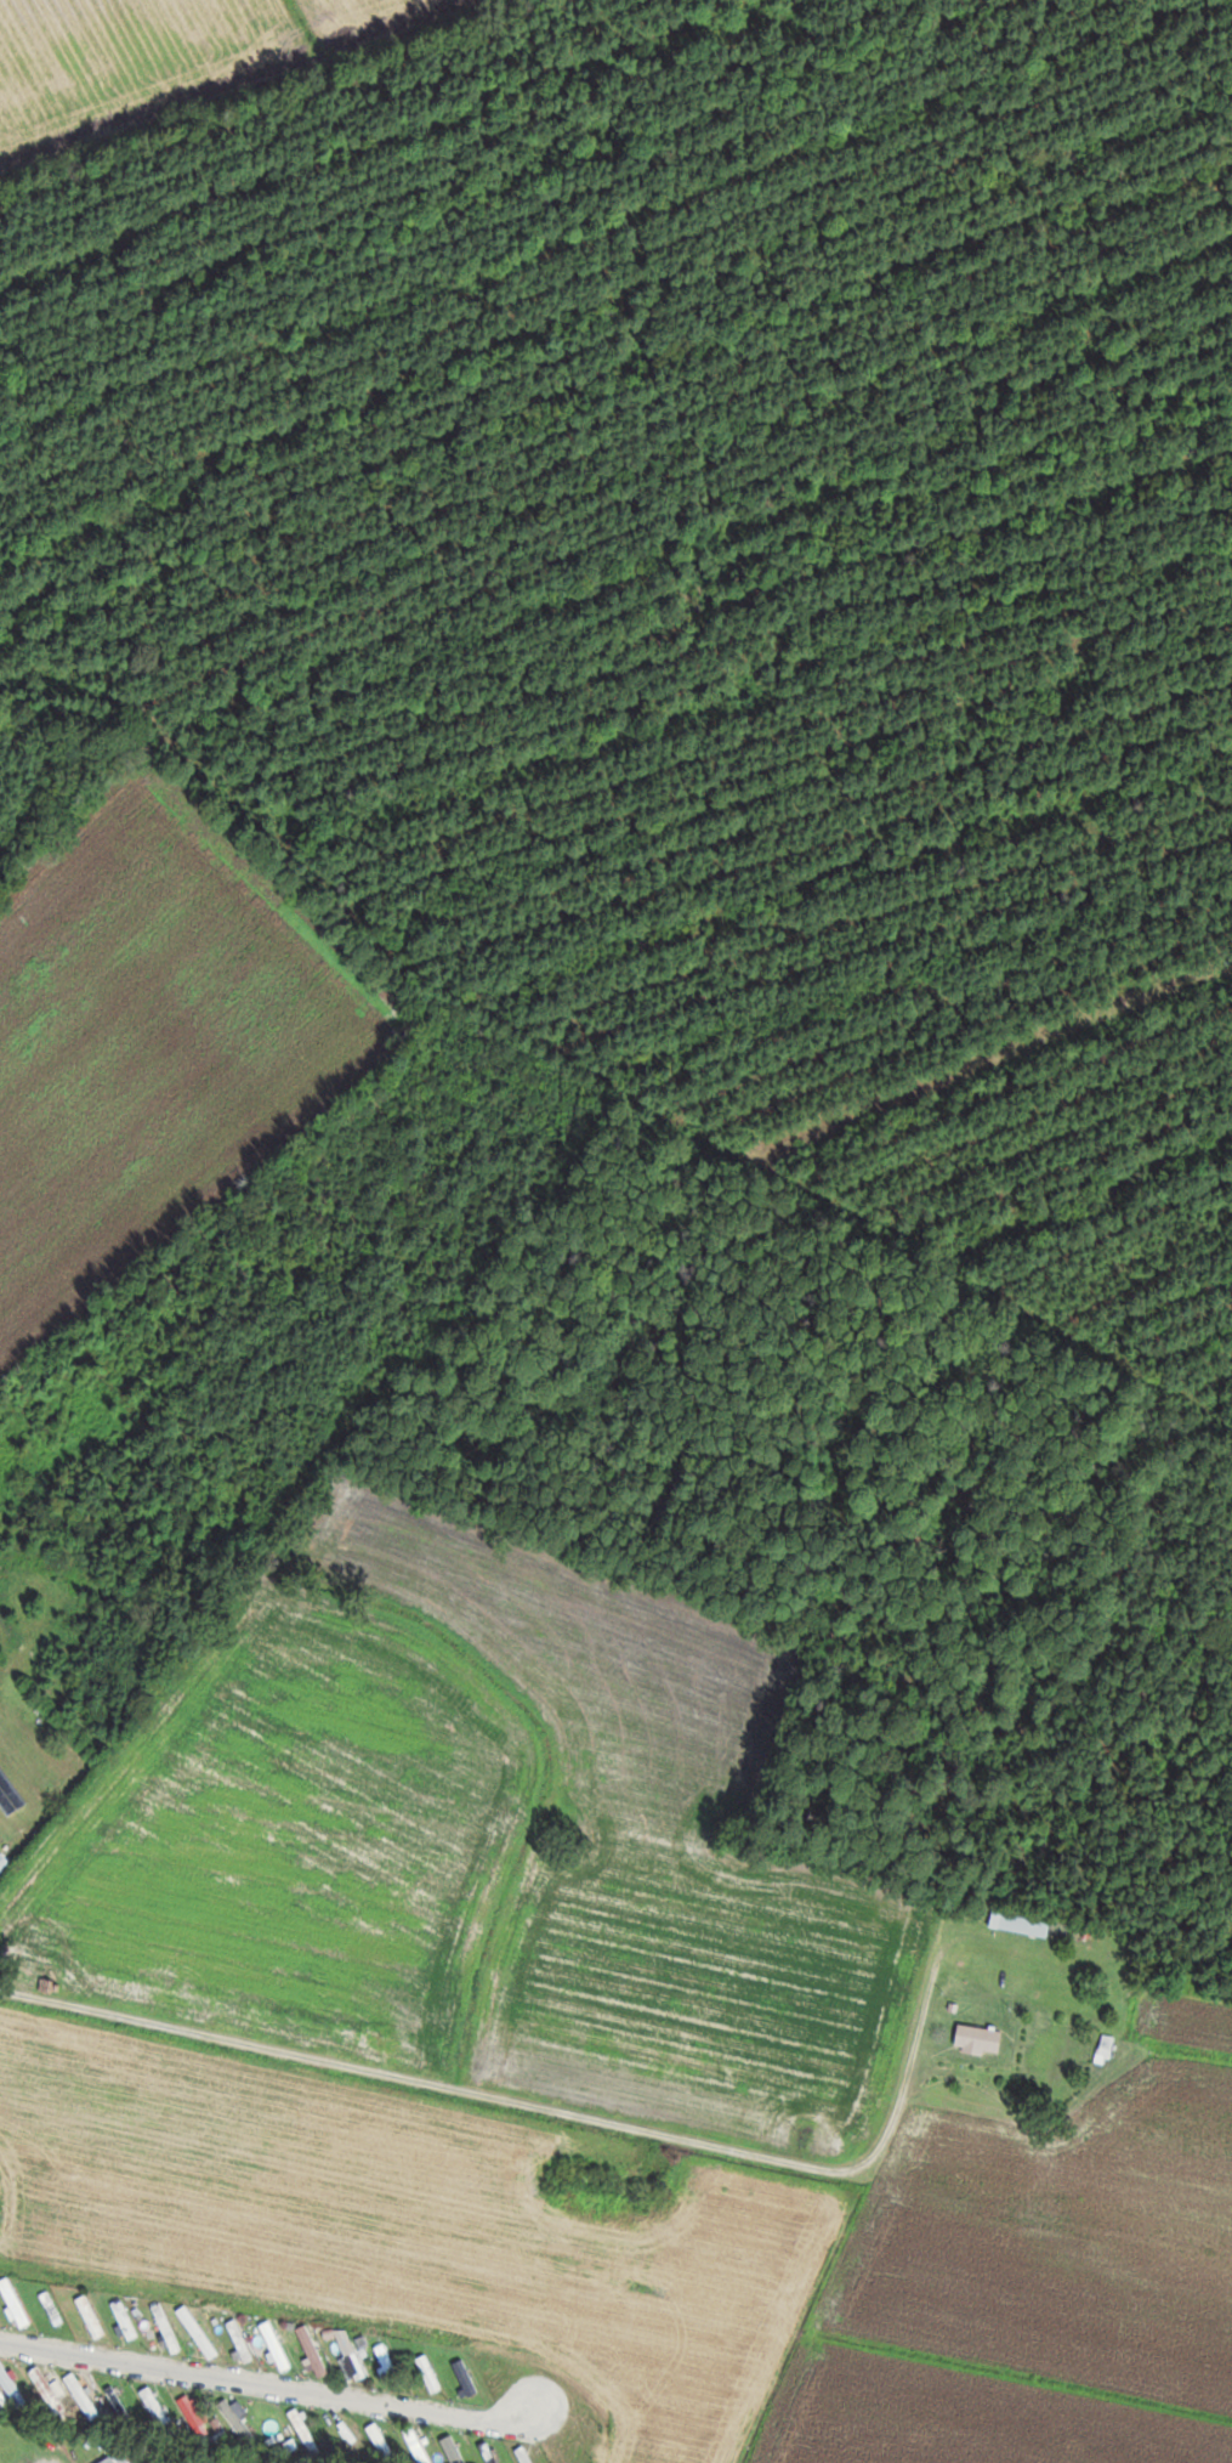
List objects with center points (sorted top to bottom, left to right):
building: (1027, 1925)
building: (982, 2039)
road: (553, 2110)
building: (17, 2301)
building: (56, 2308)
building: (93, 2316)
building: (127, 2318)
building: (169, 2328)
building: (201, 2332)
building: (243, 2340)
building: (279, 2345)
building: (356, 2357)
building: (432, 2372)
building: (469, 2377)
road: (269, 2383)
building: (13, 2384)
building: (50, 2390)
building: (85, 2395)
building: (121, 2402)
building: (197, 2416)
building: (238, 2422)
building: (306, 2424)
building: (386, 2444)
building: (454, 2447)
building: (13, 2451)
building: (121, 2457)

